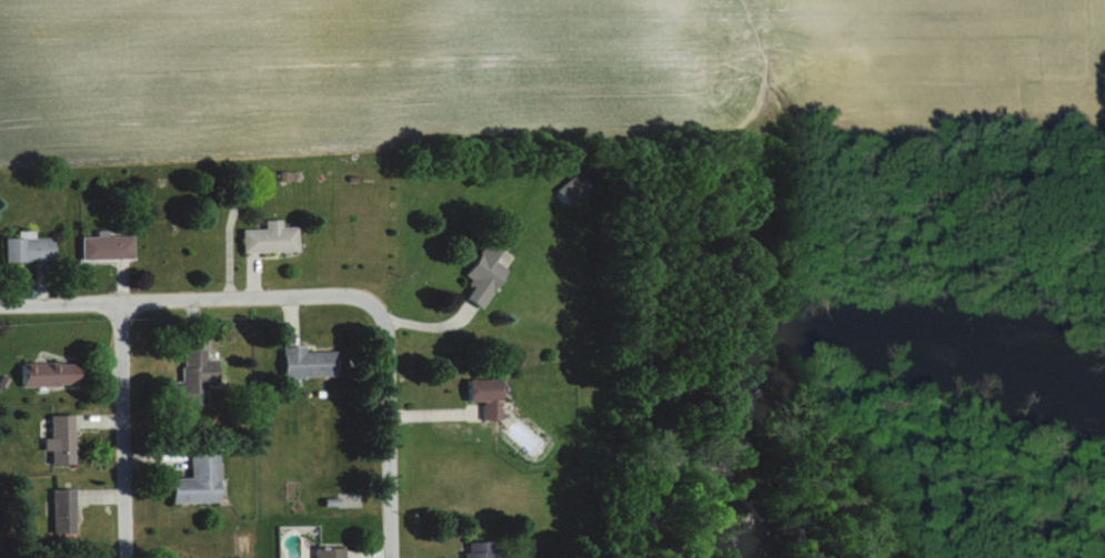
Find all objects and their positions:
building: (270, 236)
building: (107, 245)
building: (28, 247)
building: (485, 273)
road: (190, 300)
river: (832, 329)
building: (307, 361)
building: (49, 372)
building: (195, 376)
building: (486, 395)
road: (123, 430)
road: (390, 430)
building: (62, 438)
building: (199, 478)
building: (63, 509)
building: (481, 549)
building: (329, 551)

